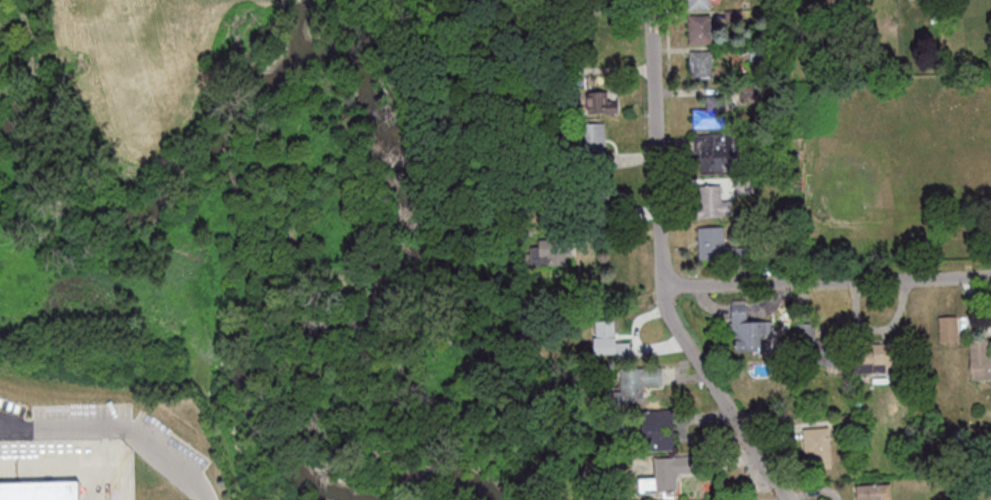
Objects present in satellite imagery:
building: (697, 3)
building: (601, 4)
building: (732, 14)
river: (302, 24)
building: (698, 28)
building: (758, 52)
building: (700, 64)
building: (747, 92)
building: (601, 101)
building: (559, 108)
building: (709, 112)
building: (586, 139)
river: (55, 149)
building: (401, 152)
building: (717, 152)
river: (204, 153)
building: (470, 162)
road: (178, 164)
building: (742, 185)
building: (596, 195)
building: (711, 202)
building: (719, 246)
building: (549, 252)
road: (661, 267)
road: (188, 270)
road: (826, 280)
building: (592, 305)
river: (302, 328)
building: (946, 328)
building: (746, 329)
building: (607, 339)
building: (819, 346)
building: (872, 357)
building: (979, 359)
building: (632, 385)
building: (856, 402)
building: (843, 421)
road: (117, 428)
building: (657, 430)
building: (816, 445)
building: (664, 474)
building: (41, 491)
building: (872, 491)
building: (713, 499)

